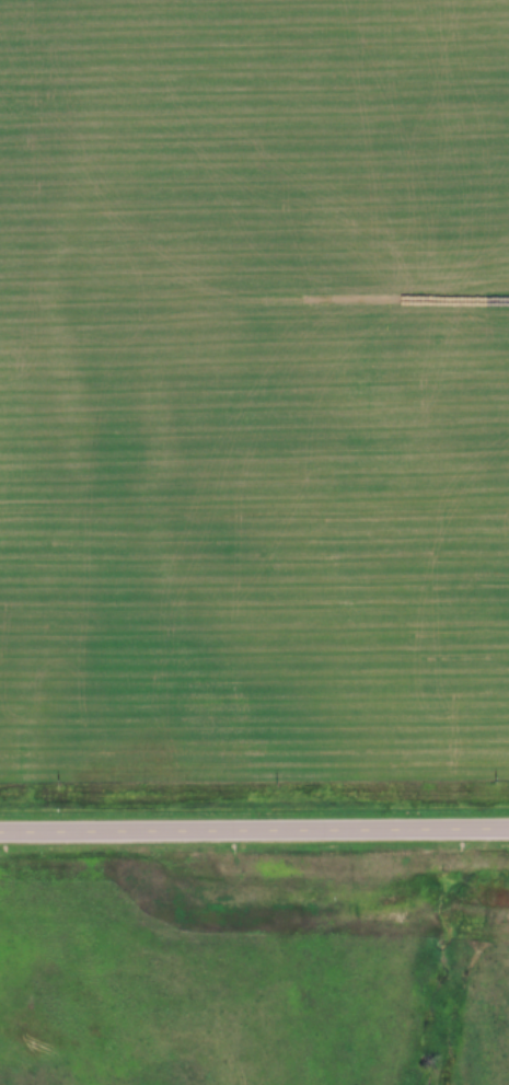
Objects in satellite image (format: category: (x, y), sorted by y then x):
road: (254, 838)

